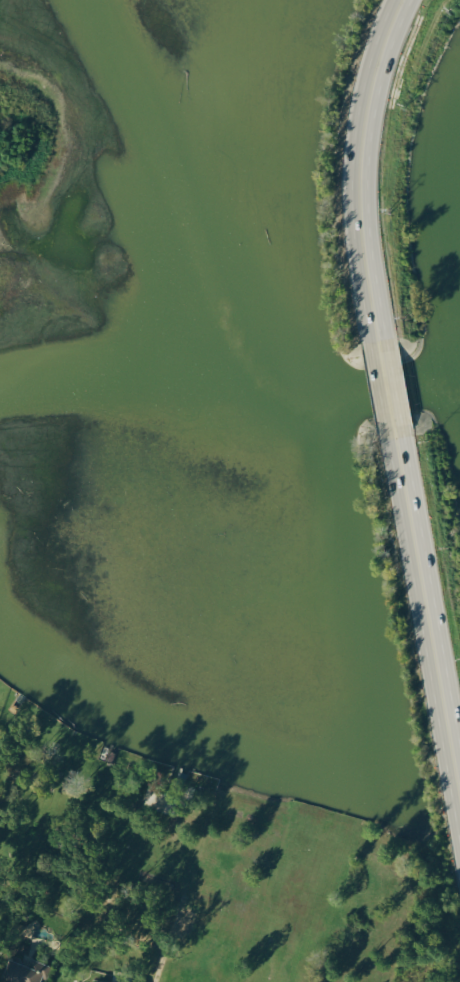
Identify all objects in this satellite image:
road: (358, 167)
road: (386, 389)
road: (428, 624)
building: (24, 970)

